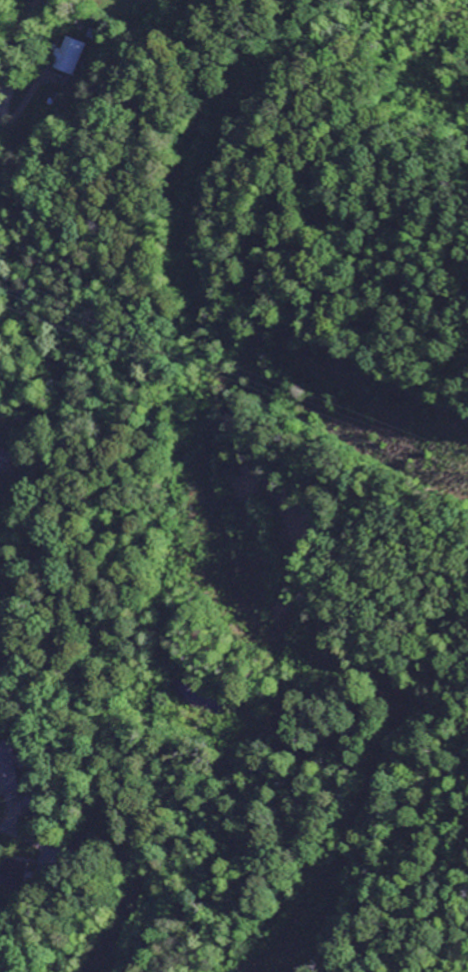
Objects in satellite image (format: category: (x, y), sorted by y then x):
road: (15, 51)

